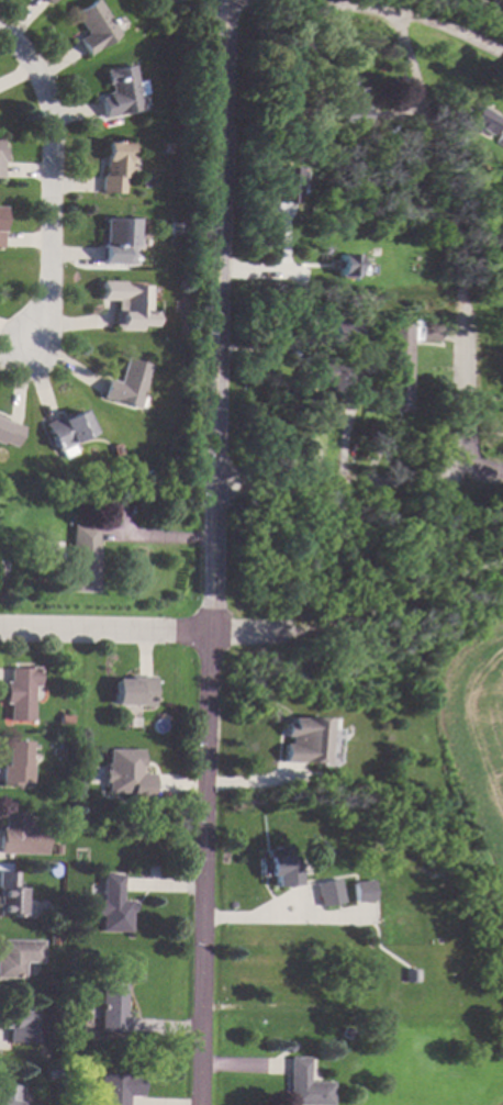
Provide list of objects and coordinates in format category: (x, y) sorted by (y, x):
building: (46, 1)
road: (391, 9)
road: (488, 10)
park: (474, 13)
building: (92, 26)
building: (120, 92)
building: (350, 103)
building: (479, 119)
building: (500, 139)
building: (2, 156)
building: (119, 166)
road: (56, 179)
building: (283, 186)
building: (2, 225)
building: (176, 228)
building: (121, 239)
building: (344, 265)
building: (130, 303)
building: (339, 331)
building: (429, 331)
road: (466, 357)
building: (399, 371)
building: (335, 376)
building: (127, 384)
building: (312, 402)
building: (67, 431)
building: (8, 435)
building: (294, 436)
building: (116, 449)
building: (171, 461)
building: (145, 477)
road: (213, 552)
building: (80, 558)
building: (1, 577)
building: (0, 589)
road: (258, 633)
building: (132, 691)
building: (16, 692)
building: (62, 719)
building: (304, 739)
crop: (480, 743)
building: (12, 763)
building: (123, 774)
building: (20, 836)
building: (383, 839)
building: (55, 849)
building: (278, 867)
building: (361, 890)
building: (11, 892)
building: (327, 893)
building: (112, 905)
road: (282, 919)
building: (53, 940)
building: (18, 956)
building: (411, 973)
building: (110, 1008)
building: (18, 1025)
building: (290, 1047)
road: (238, 1060)
building: (54, 1072)
building: (304, 1084)
building: (116, 1087)
building: (9, 1095)

